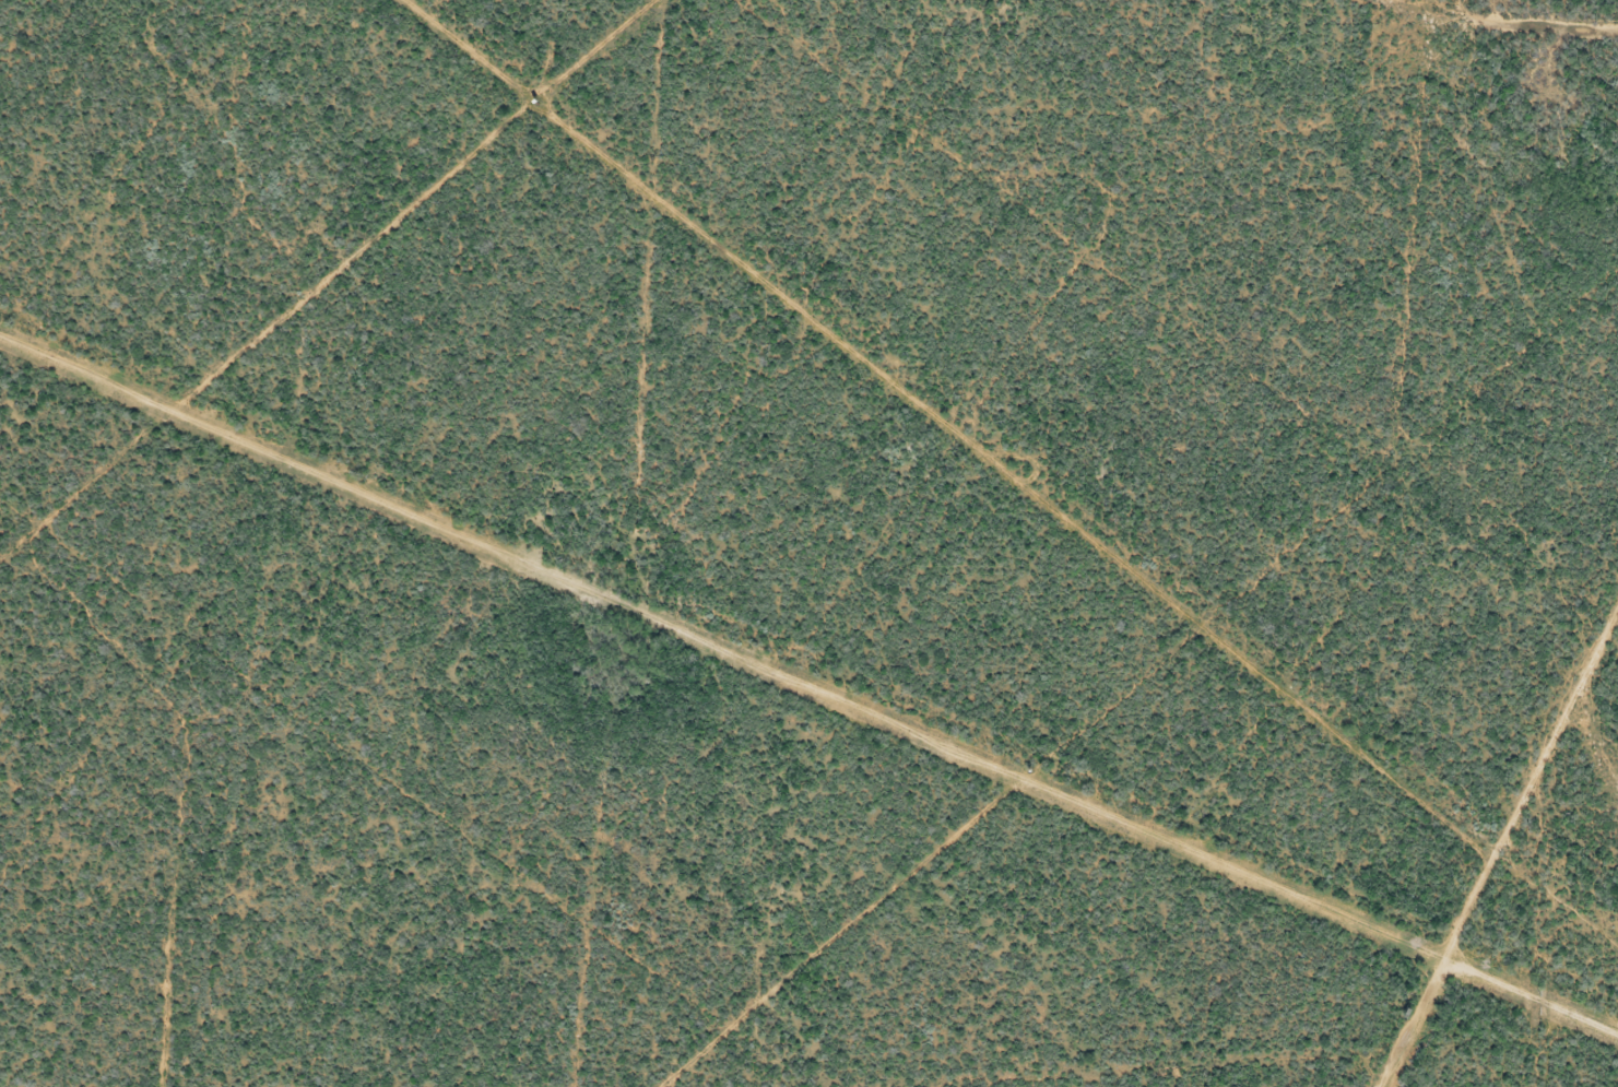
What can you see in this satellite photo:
road: (1415, 23)
road: (1504, 856)
road: (1549, 971)

